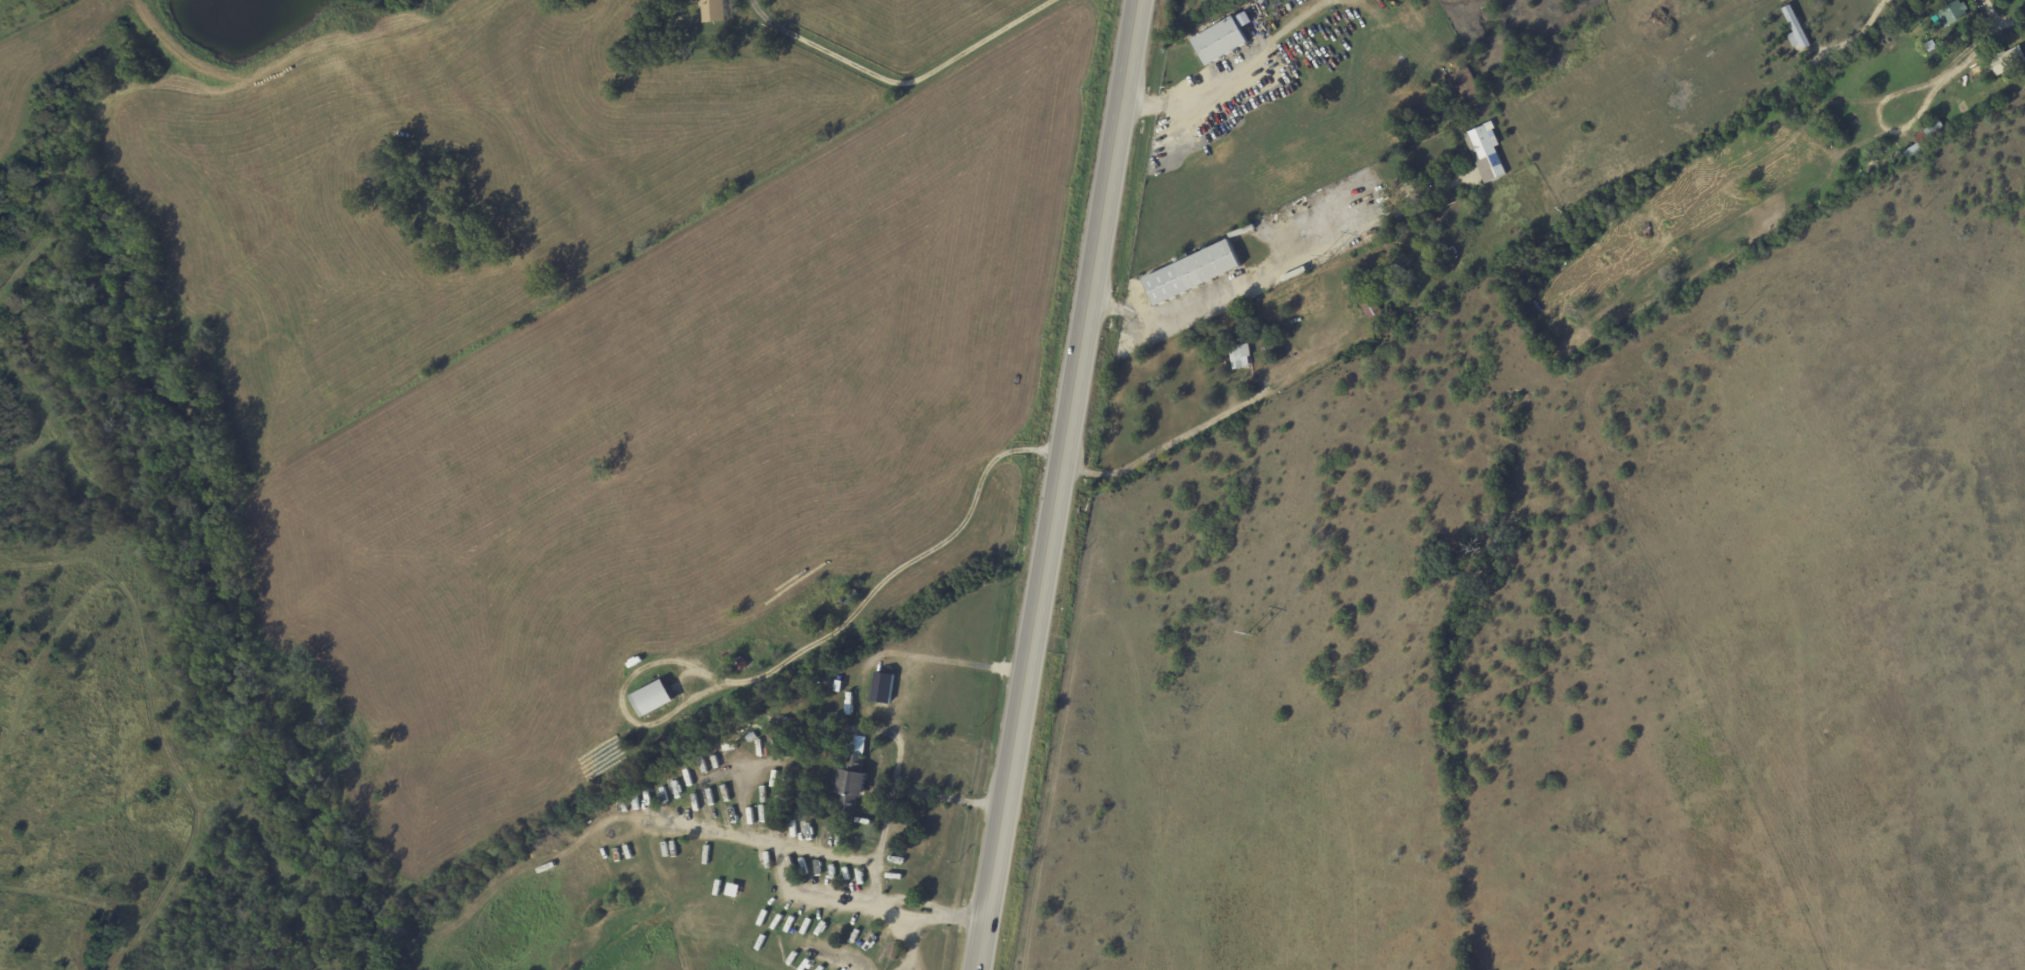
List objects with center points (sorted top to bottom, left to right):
building: (712, 11)
building: (1949, 14)
road: (1996, 22)
building: (1795, 29)
road: (1856, 36)
building: (1222, 39)
building: (2008, 60)
road: (893, 86)
road: (1195, 96)
building: (1927, 138)
building: (1485, 152)
building: (1352, 191)
power tower: (1326, 257)
building: (1192, 273)
road: (1221, 300)
building: (1368, 305)
building: (1239, 357)
road: (1058, 485)
power tower: (1252, 634)
road: (912, 656)
building: (652, 698)
road: (840, 729)
building: (851, 777)
road: (948, 799)
road: (886, 823)
road: (725, 826)
road: (830, 848)
road: (884, 881)
road: (815, 892)
road: (900, 909)
road: (947, 912)
road: (919, 944)
road: (837, 957)

